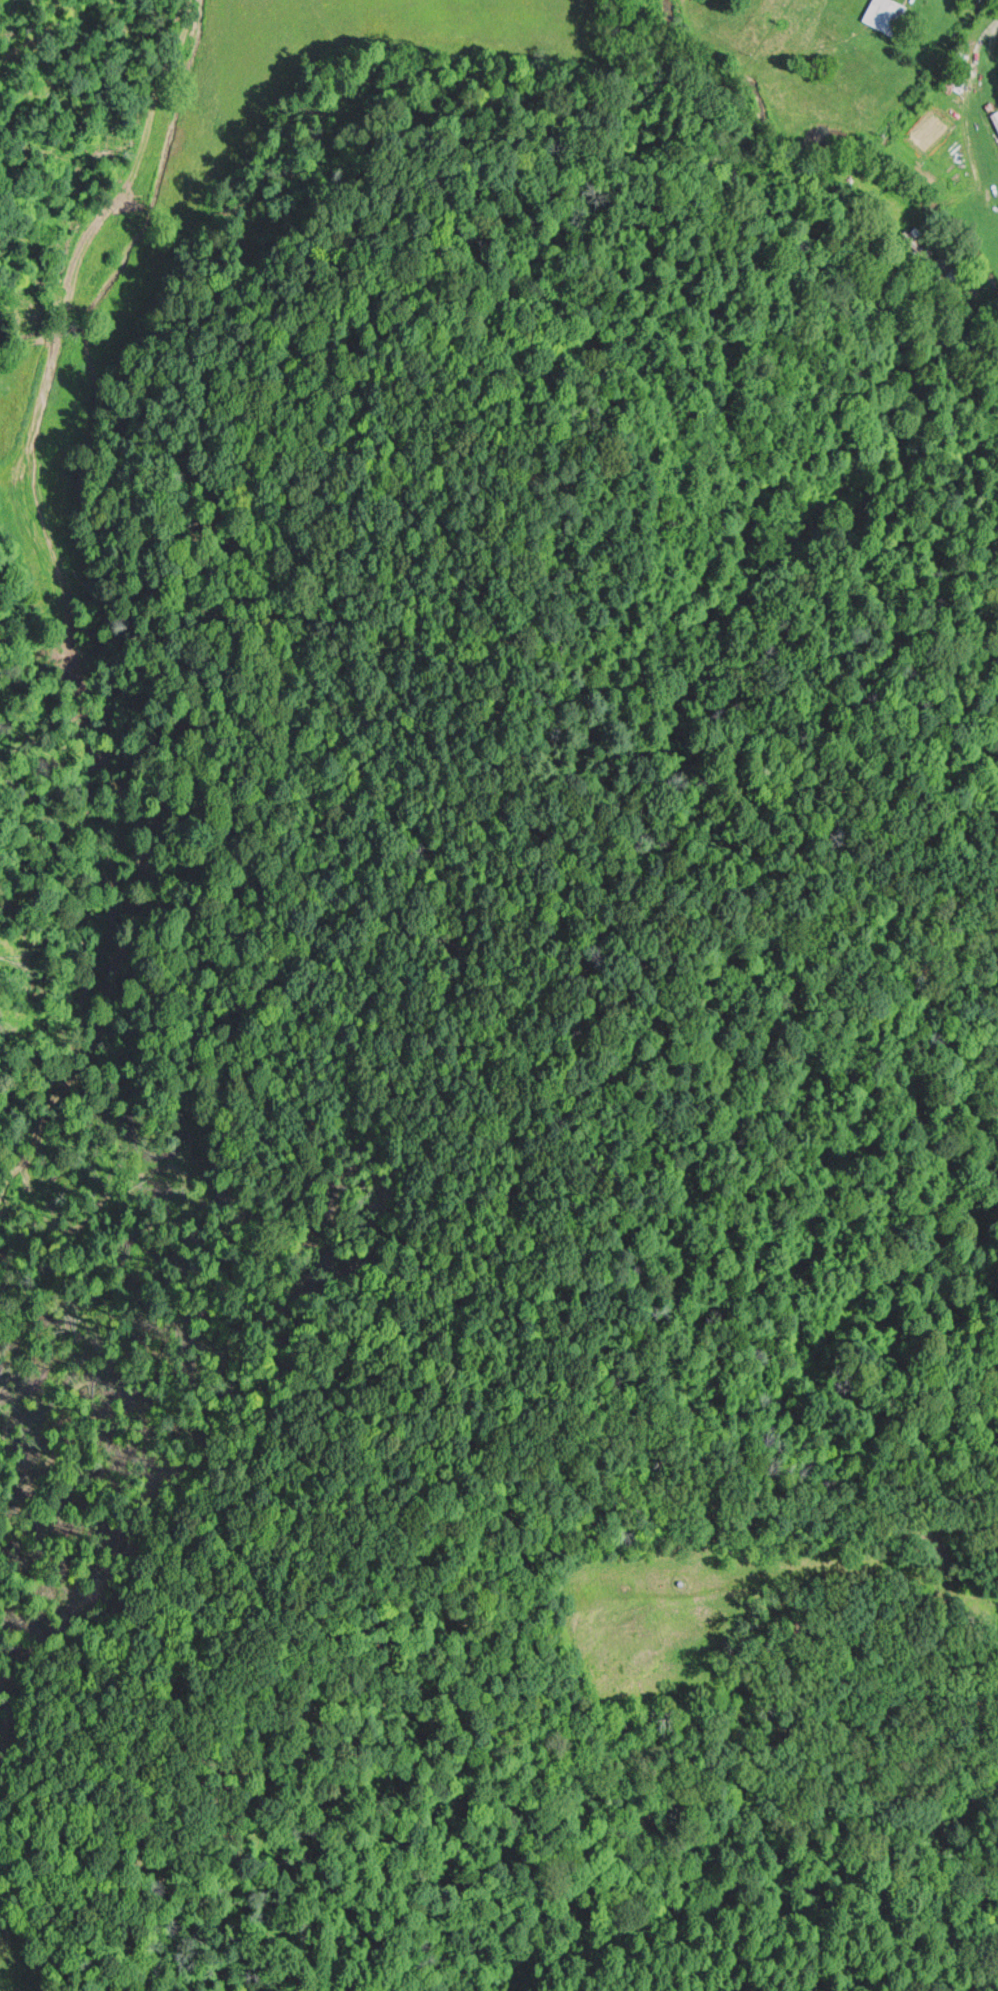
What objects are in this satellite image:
building: (889, 14)
building: (996, 116)

